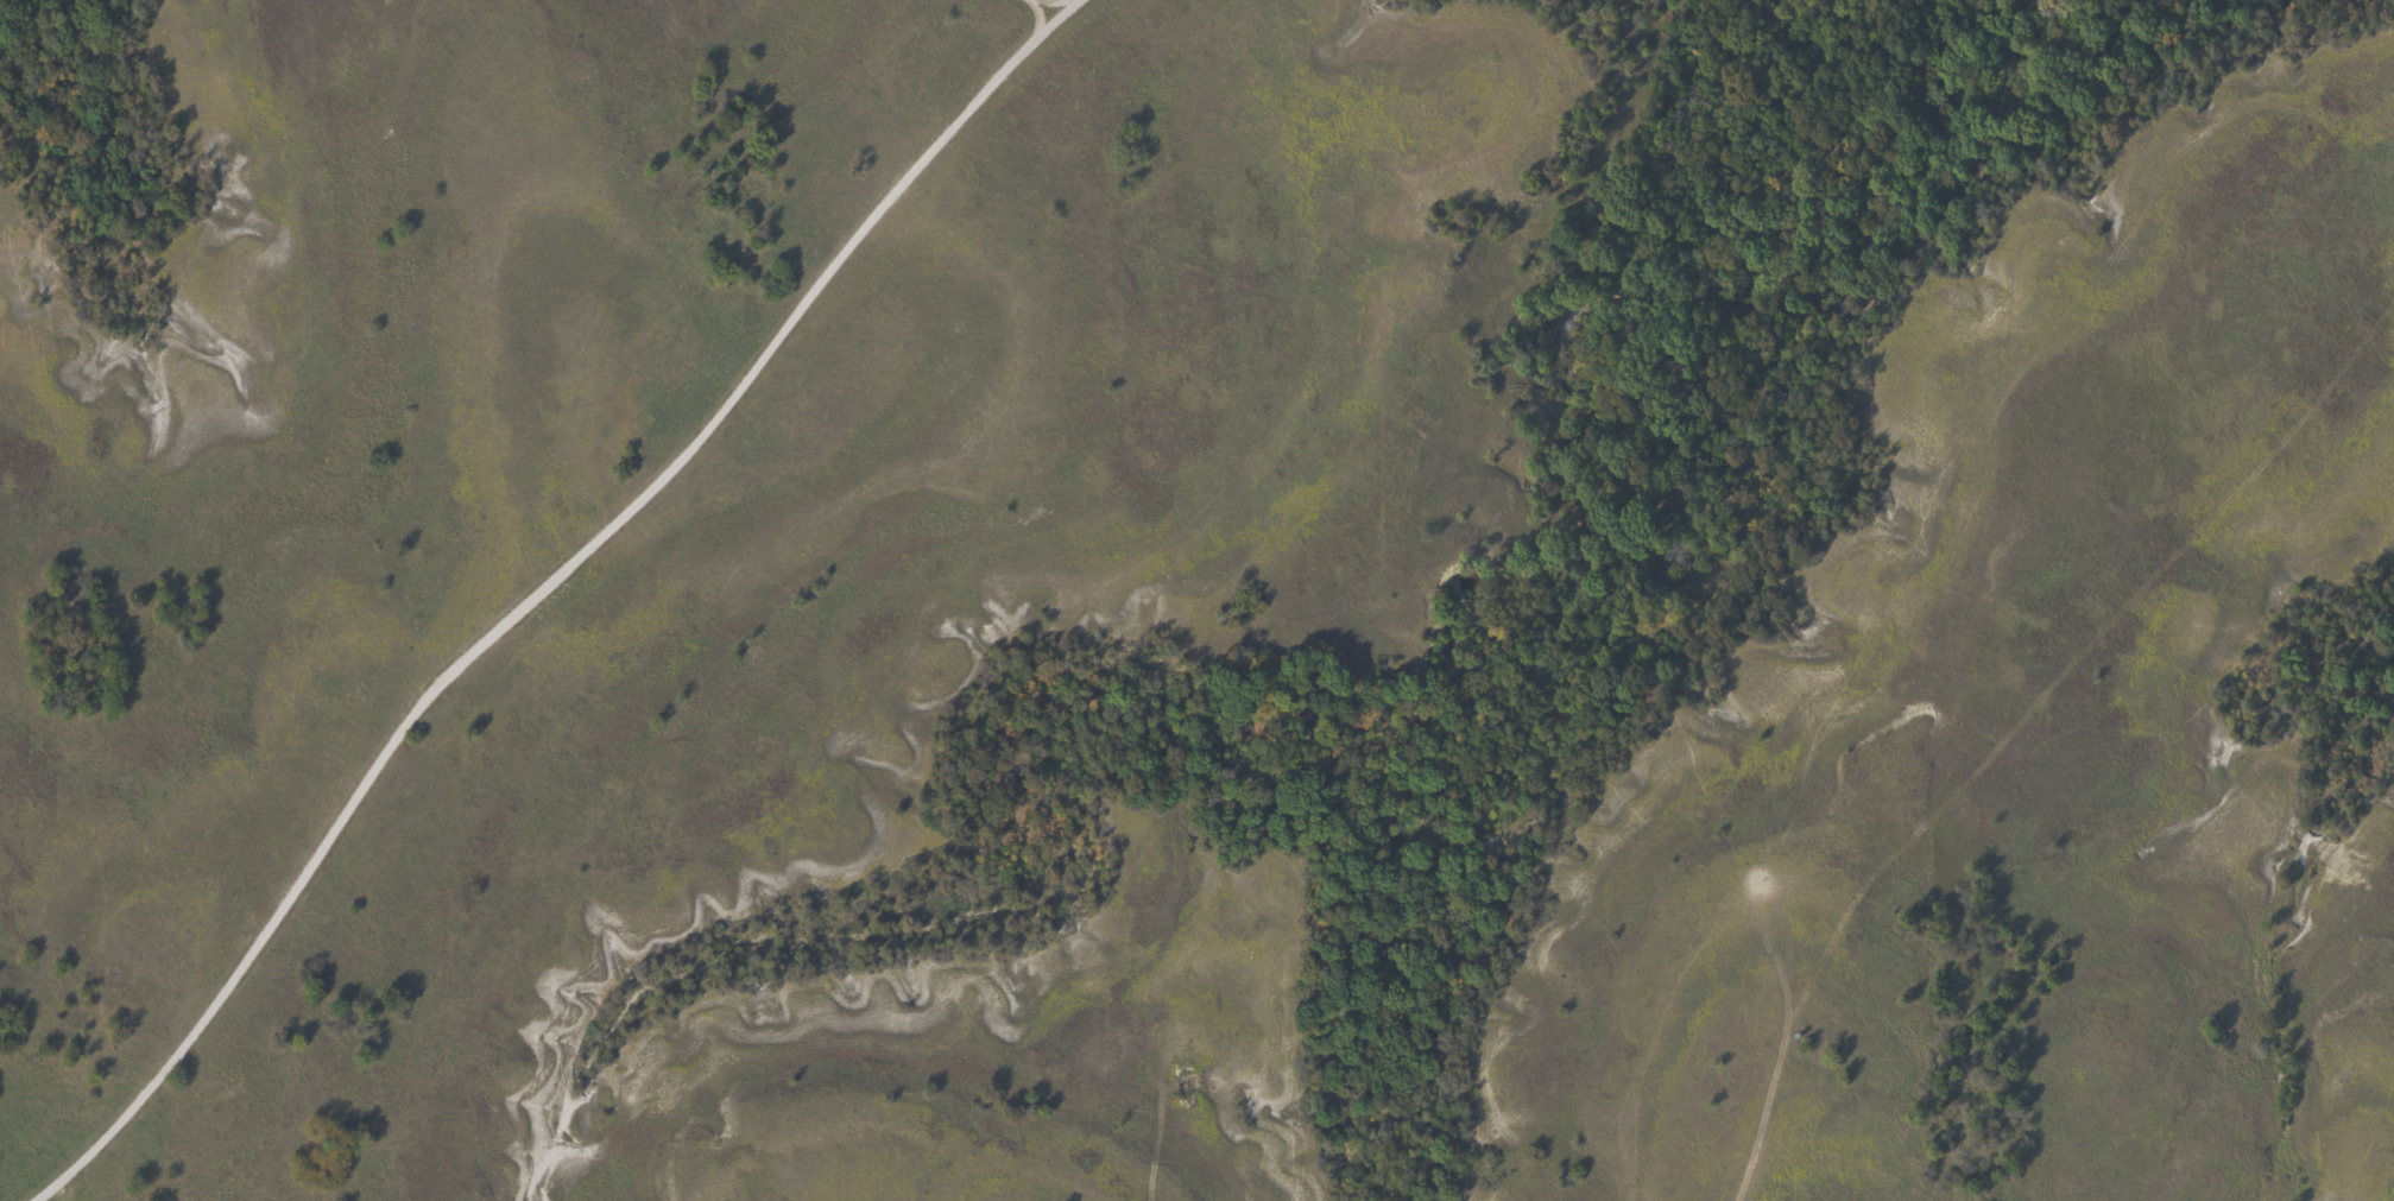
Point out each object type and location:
road: (978, 95)
road: (644, 483)
road: (225, 993)

